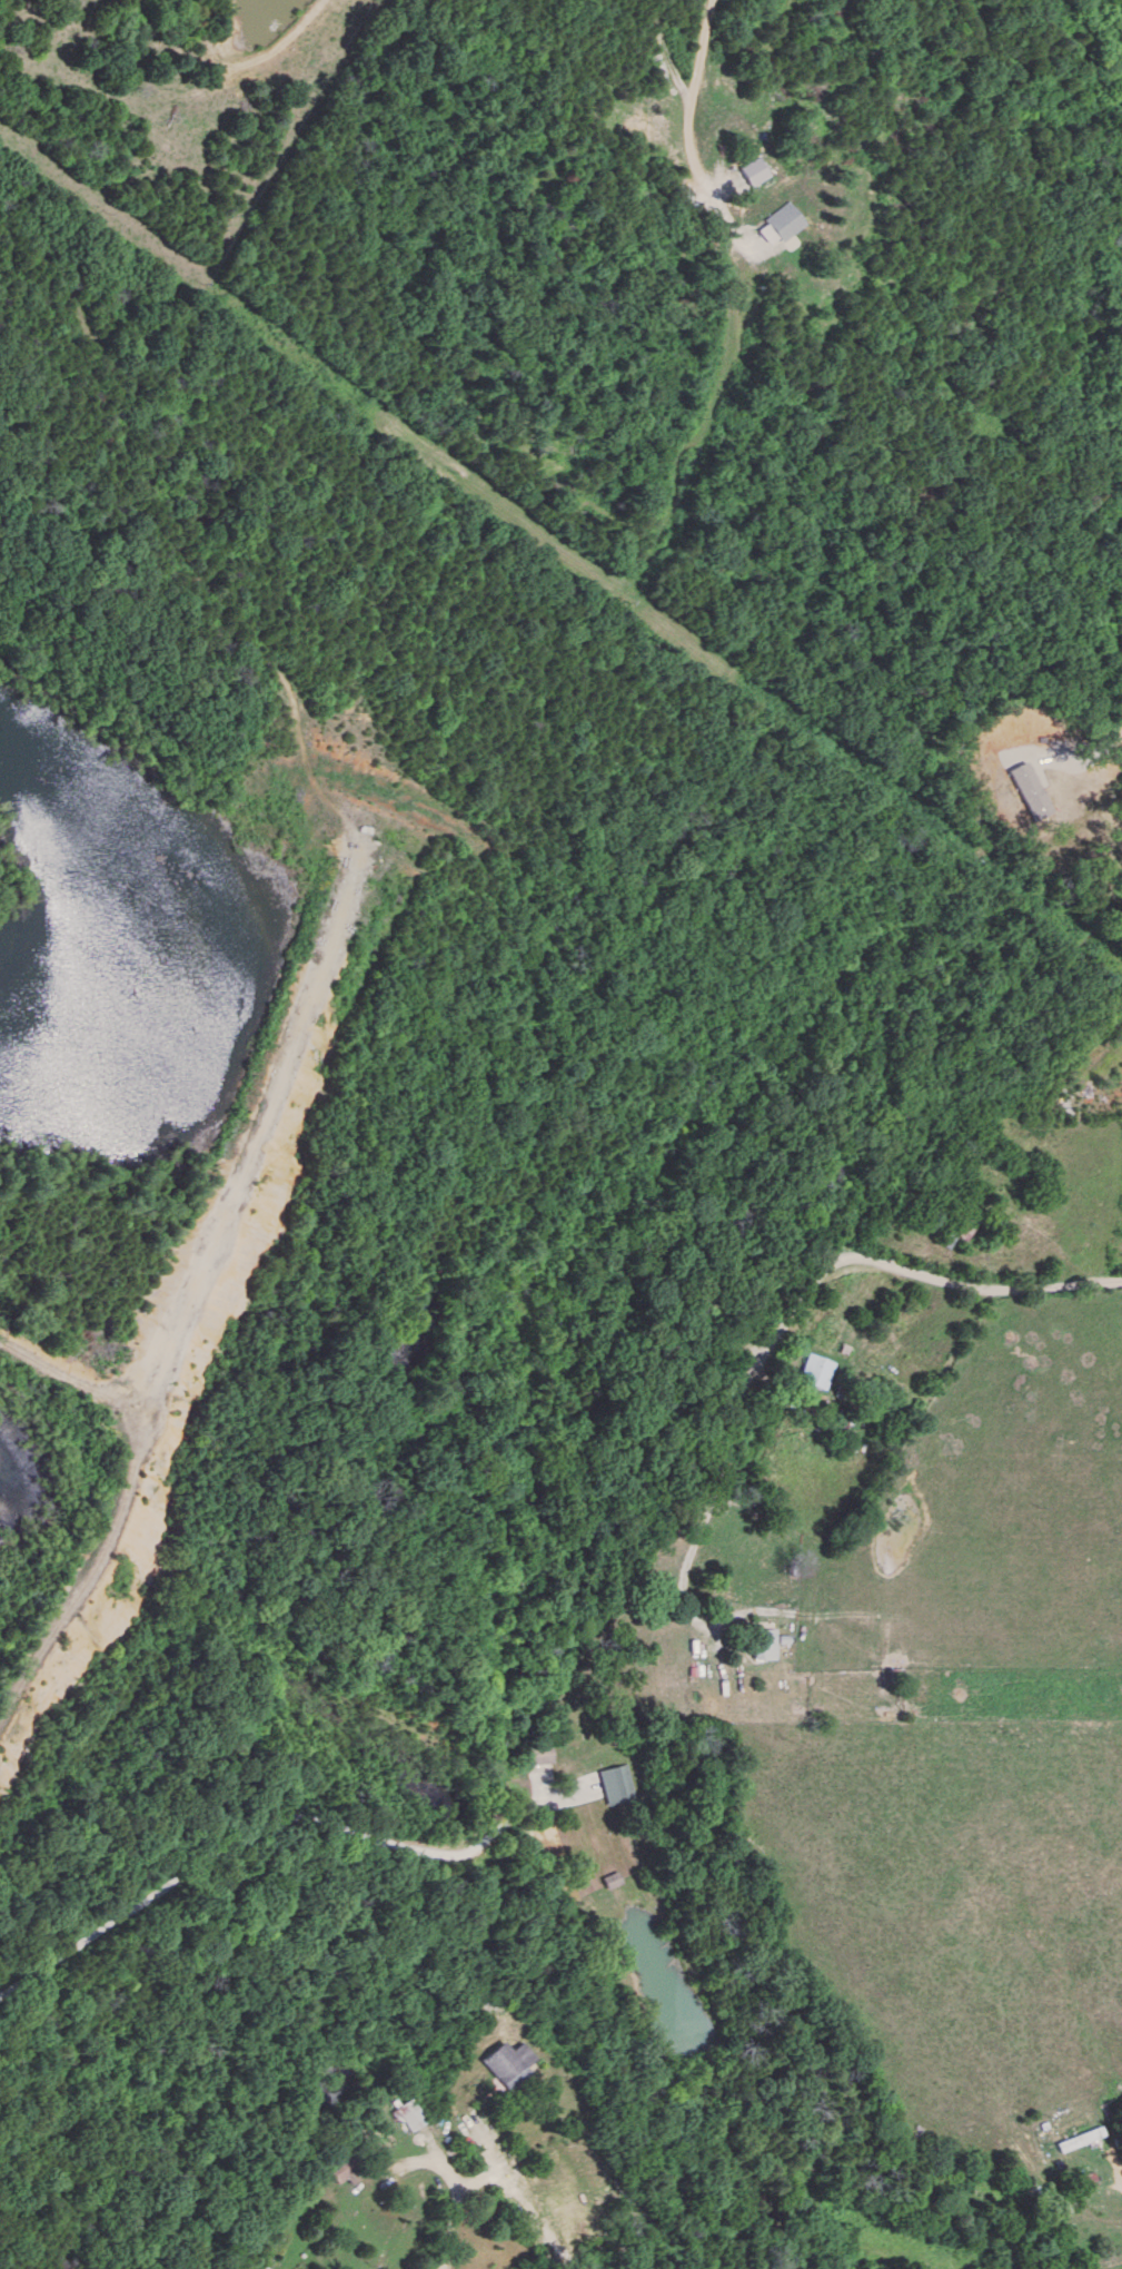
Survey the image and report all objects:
road: (684, 131)
building: (960, 1221)
road: (797, 1301)
building: (815, 1372)
building: (758, 1644)
building: (530, 1753)
building: (590, 1769)
road: (252, 1826)
building: (600, 1880)
building: (504, 2063)
building: (404, 2114)
building: (1074, 2139)
building: (336, 2167)
road: (421, 2168)
road: (487, 2168)
road: (1116, 2170)
road: (441, 2229)

